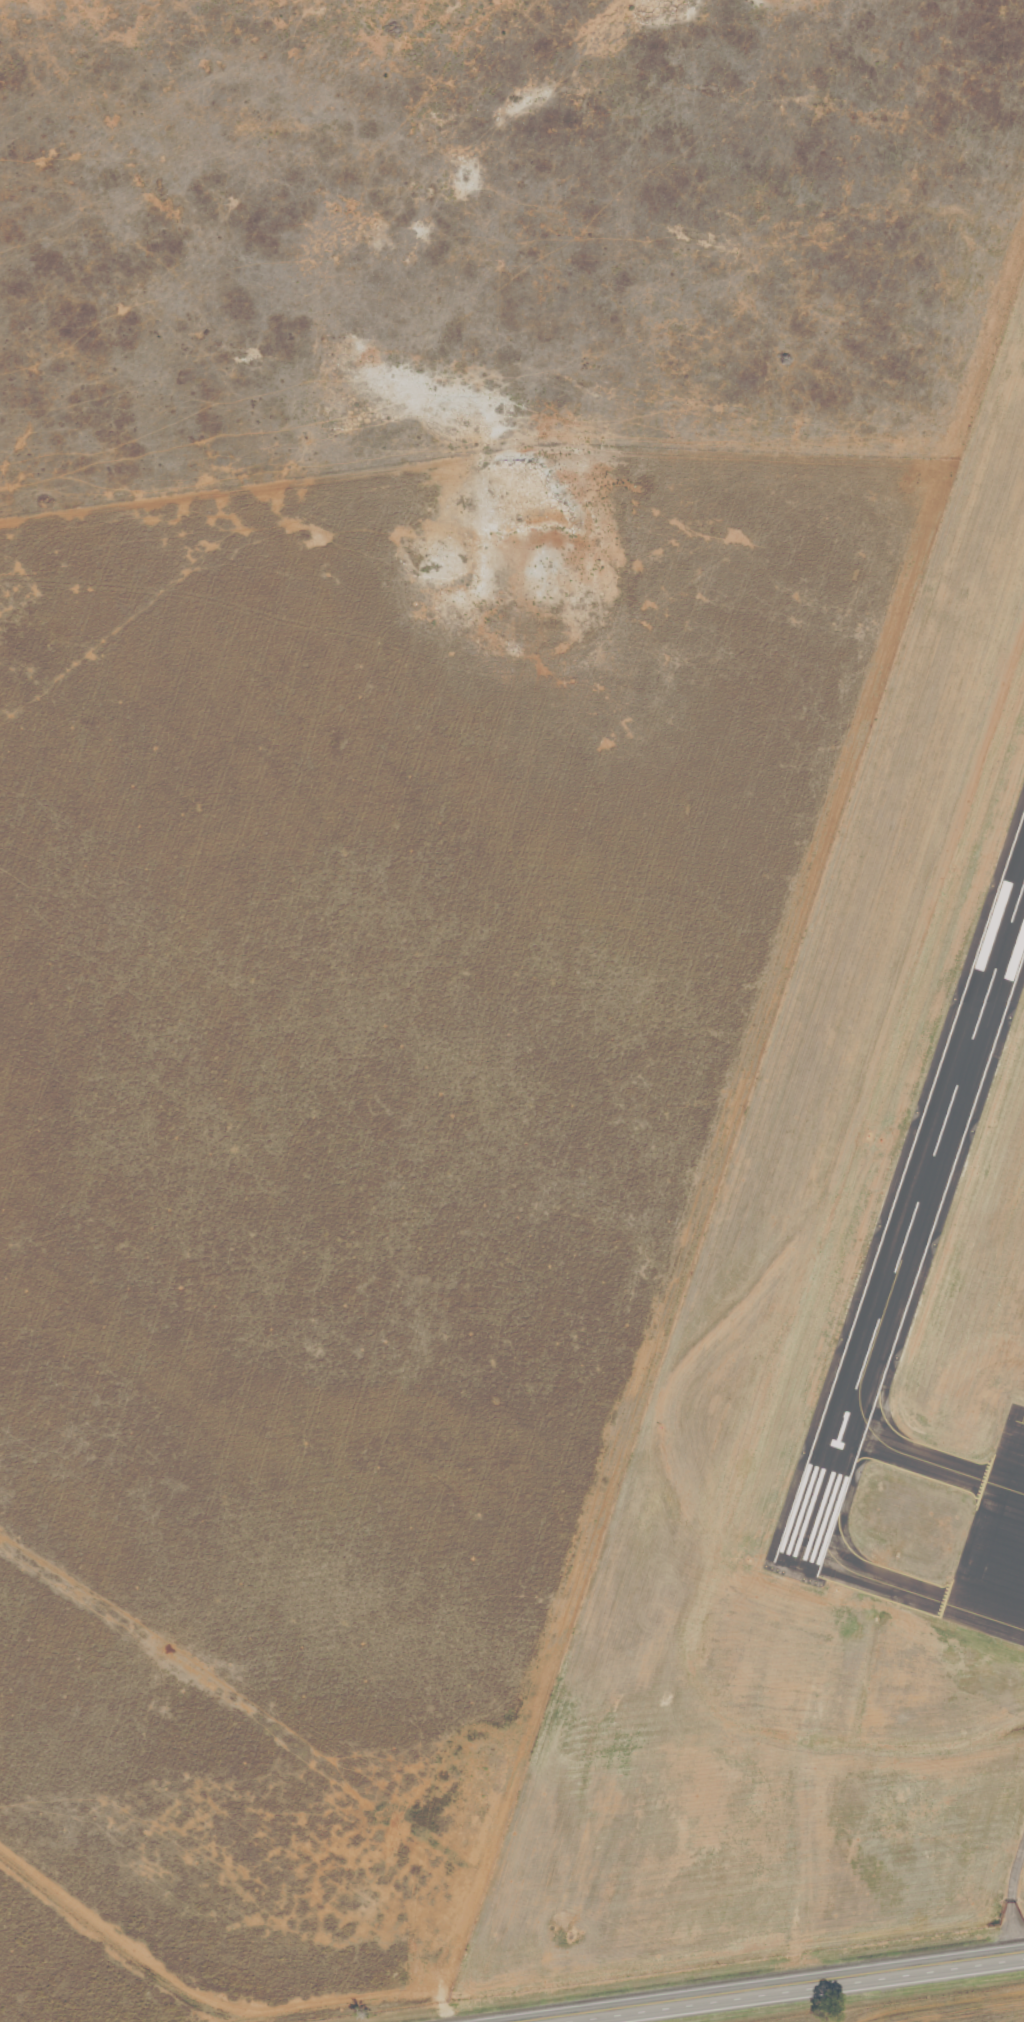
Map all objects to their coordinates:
airport runway: (910, 1216)
airport: (829, 1388)
airport taxiway: (885, 1445)
airport apron: (994, 1548)
airport taxiway: (872, 1579)
road: (984, 1616)
road: (1012, 1900)
road: (111, 1943)
road: (792, 1991)
road: (417, 1995)

